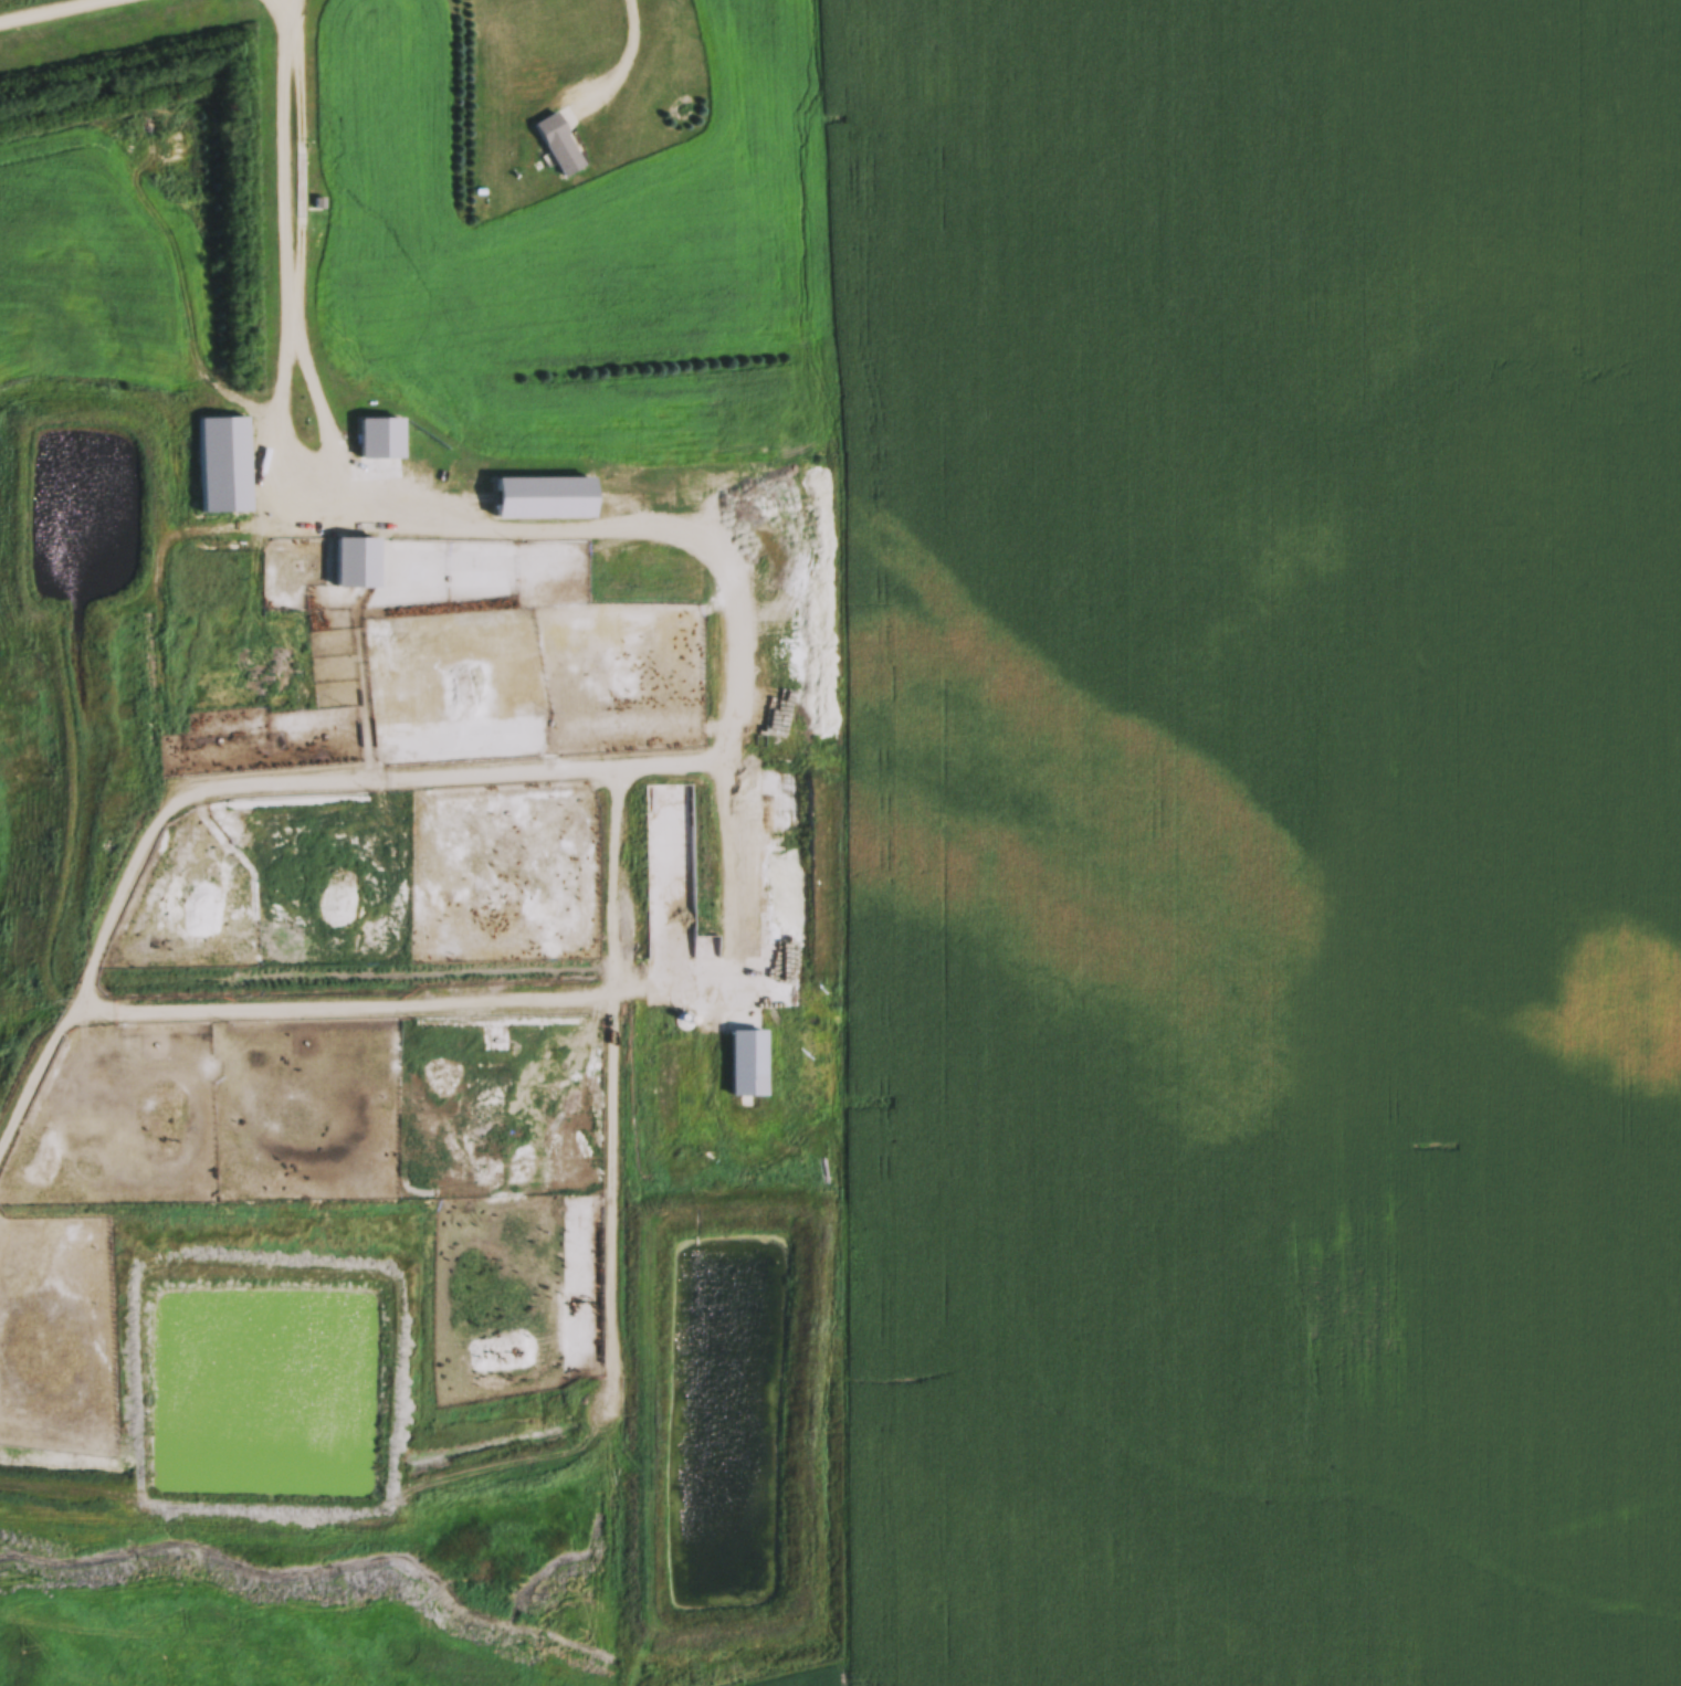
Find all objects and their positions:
road: (30, 6)
building: (560, 147)
building: (807, 433)
road: (571, 447)
building: (381, 464)
building: (500, 504)
building: (525, 504)
building: (827, 836)
building: (748, 1065)

